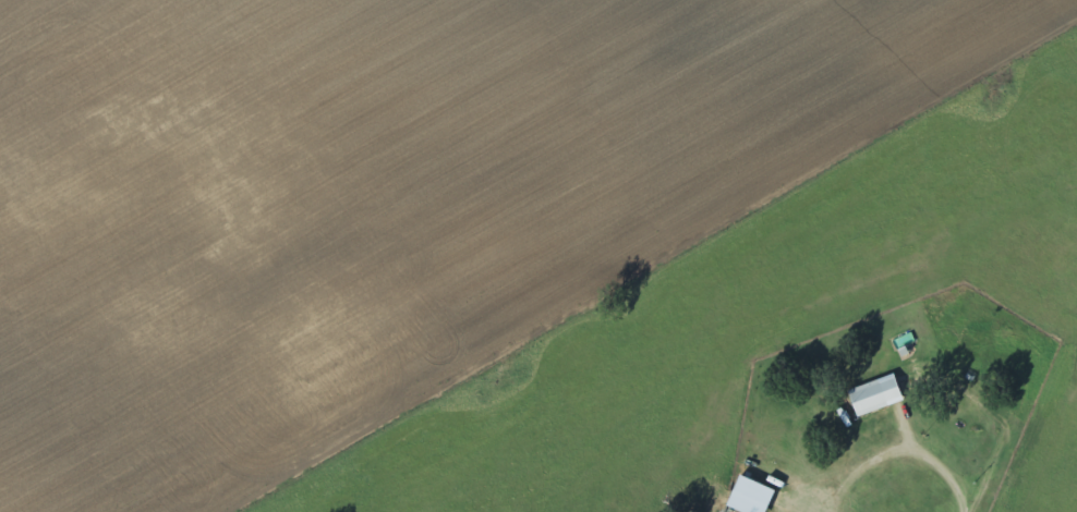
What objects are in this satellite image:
building: (870, 397)
building: (743, 497)

